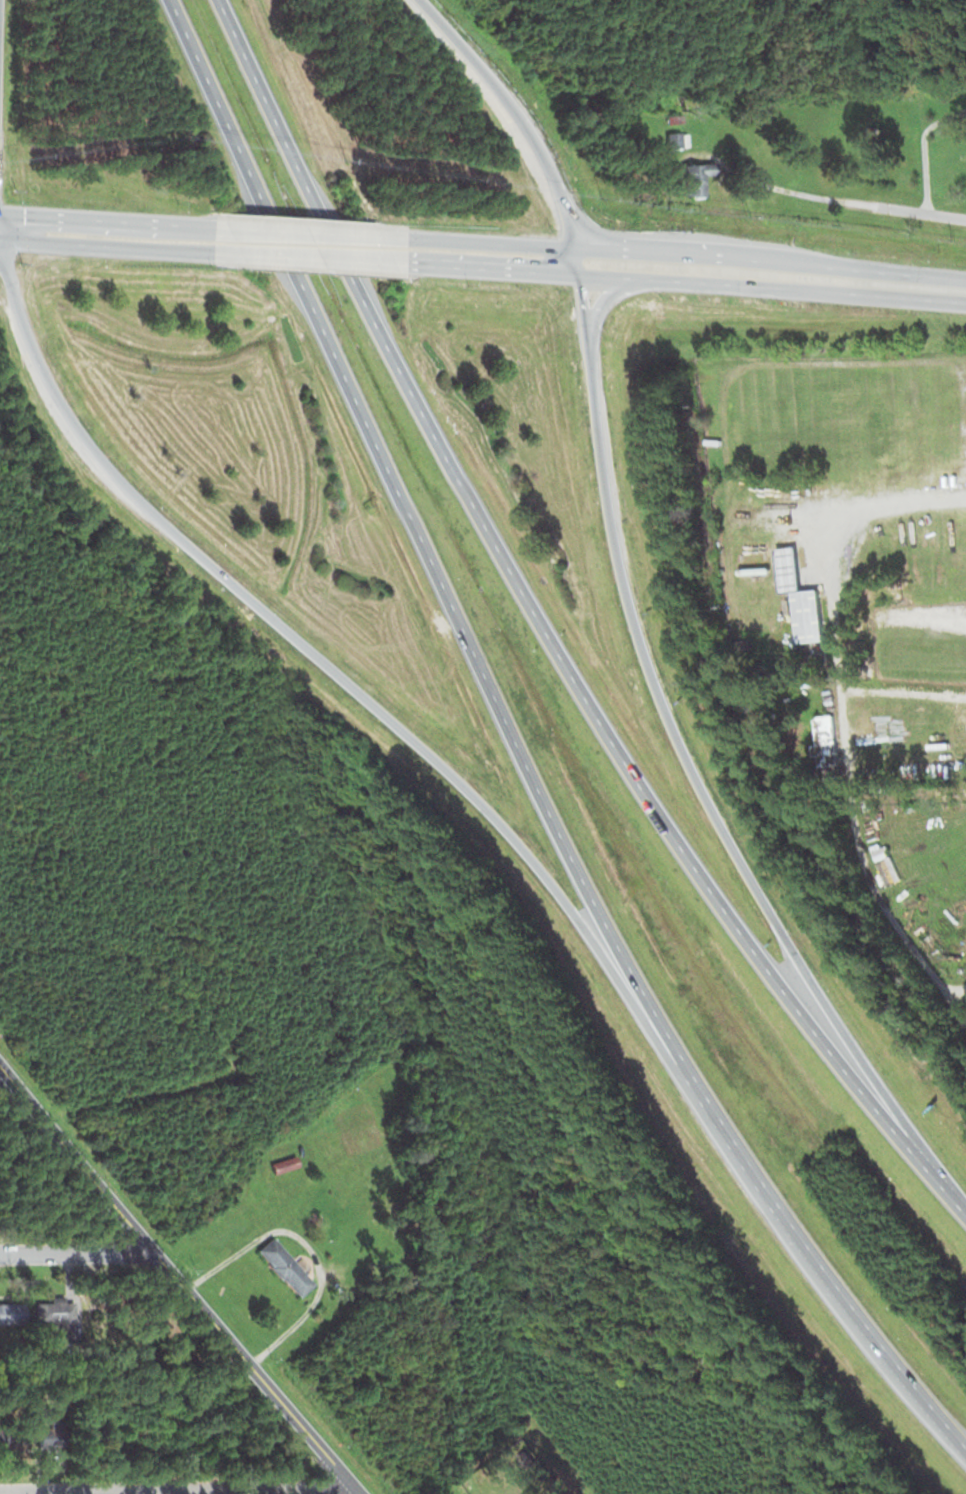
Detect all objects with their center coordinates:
road: (526, 124)
building: (678, 139)
building: (696, 180)
road: (772, 184)
road: (904, 209)
road: (107, 219)
road: (310, 232)
road: (107, 245)
road: (311, 258)
road: (685, 260)
road: (496, 269)
road: (776, 284)
road: (723, 442)
building: (864, 535)
building: (772, 537)
road: (426, 549)
building: (863, 554)
building: (879, 568)
building: (806, 601)
road: (535, 617)
road: (338, 678)
road: (682, 757)
building: (396, 881)
building: (405, 970)
building: (411, 1011)
road: (143, 1094)
building: (286, 1164)
road: (952, 1196)
road: (77, 1253)
building: (288, 1266)
road: (824, 1277)
road: (179, 1280)
building: (417, 1281)
building: (56, 1312)
building: (14, 1313)
building: (71, 1346)
building: (14, 1436)
building: (49, 1436)
road: (179, 1489)

